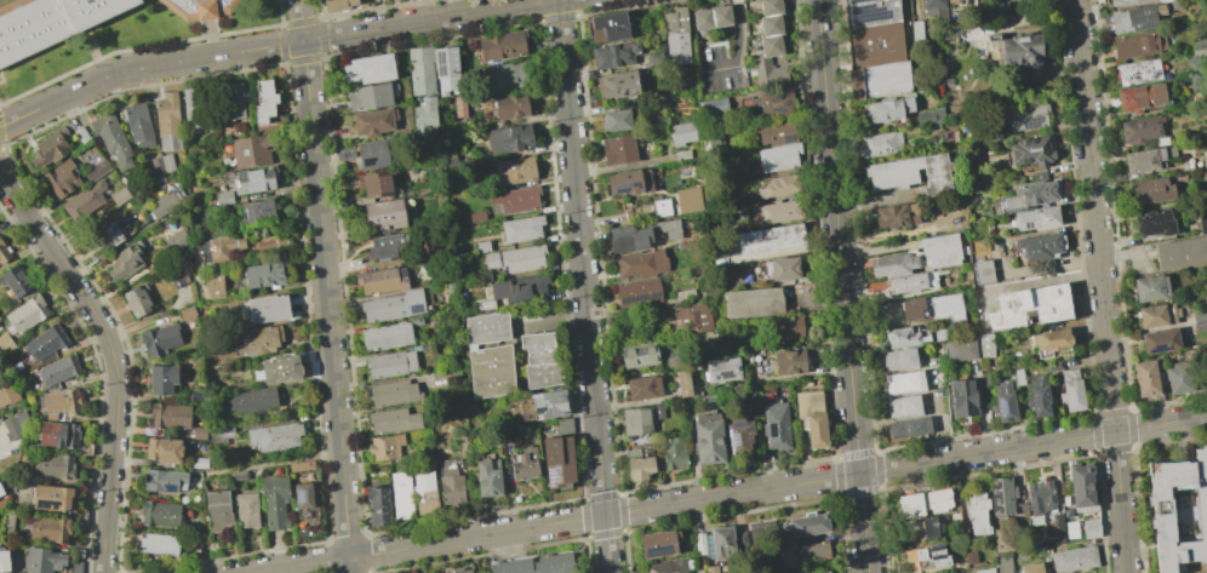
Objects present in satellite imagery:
building: (949, 0)
building: (1022, 1)
building: (1127, 2)
building: (1173, 4)
building: (337, 5)
building: (932, 6)
building: (770, 7)
building: (199, 8)
building: (720, 16)
building: (1133, 17)
building: (674, 19)
building: (702, 19)
building: (51, 23)
building: (770, 24)
building: (606, 27)
building: (875, 33)
building: (500, 45)
building: (770, 45)
building: (1134, 45)
road: (269, 46)
building: (676, 46)
building: (1197, 47)
road: (737, 48)
building: (1017, 50)
building: (613, 55)
building: (367, 68)
building: (445, 69)
building: (419, 70)
building: (767, 73)
building: (1137, 73)
building: (503, 76)
building: (883, 81)
building: (617, 84)
building: (370, 96)
building: (1139, 97)
rooftop solar panel: (776, 98)
building: (229, 101)
building: (263, 101)
rooftop solar panel: (788, 102)
building: (776, 103)
building: (510, 105)
building: (711, 105)
building: (190, 107)
building: (458, 107)
rooftop solar panel: (778, 108)
building: (887, 109)
building: (423, 114)
building: (929, 116)
building: (1024, 116)
building: (614, 120)
building: (166, 121)
rooftop solar panel: (1030, 121)
building: (372, 122)
building: (137, 124)
building: (1140, 128)
building: (80, 133)
building: (681, 133)
building: (776, 133)
building: (509, 138)
building: (111, 139)
rooftop solar panel: (788, 139)
building: (879, 143)
building: (50, 147)
building: (618, 149)
building: (250, 150)
building: (1030, 150)
building: (344, 153)
building: (374, 153)
building: (681, 154)
building: (778, 156)
building: (446, 157)
building: (1203, 159)
building: (1142, 160)
building: (160, 162)
road: (623, 165)
building: (96, 170)
building: (513, 171)
building: (892, 173)
building: (934, 174)
building: (62, 178)
building: (253, 179)
building: (628, 182)
building: (1205, 182)
building: (374, 184)
building: (778, 187)
building: (1149, 190)
building: (1031, 191)
building: (119, 195)
building: (223, 199)
building: (515, 199)
building: (688, 200)
building: (166, 202)
building: (81, 204)
building: (660, 207)
building: (773, 211)
building: (256, 212)
building: (384, 214)
building: (476, 216)
building: (894, 217)
building: (1035, 218)
building: (1201, 222)
building: (1152, 223)
building: (521, 229)
building: (113, 231)
building: (641, 234)
rooftop solar panel: (388, 237)
building: (770, 237)
building: (175, 240)
building: (387, 246)
building: (481, 246)
building: (1039, 246)
building: (218, 248)
building: (939, 250)
building: (1180, 252)
building: (2, 253)
building: (515, 258)
building: (126, 260)
building: (640, 264)
building: (892, 265)
building: (782, 268)
building: (982, 271)
building: (262, 275)
building: (486, 277)
building: (178, 280)
building: (15, 281)
building: (379, 281)
building: (905, 282)
building: (211, 285)
road: (324, 286)
road: (583, 286)
road: (842, 286)
road: (1100, 286)
building: (448, 287)
building: (1149, 287)
building: (519, 288)
building: (637, 291)
building: (681, 296)
building: (136, 299)
building: (753, 302)
building: (391, 305)
building: (485, 305)
building: (1028, 305)
building: (263, 308)
rooftop solar panel: (418, 308)
building: (932, 308)
building: (187, 313)
building: (24, 315)
building: (1156, 315)
building: (1199, 315)
building: (694, 316)
building: (416, 320)
building: (1200, 326)
building: (486, 327)
building: (785, 327)
building: (385, 336)
building: (900, 337)
building: (159, 339)
building: (256, 339)
building: (1049, 339)
building: (1159, 340)
building: (4, 343)
building: (45, 343)
building: (983, 345)
rooftop solar panel: (1157, 348)
building: (959, 349)
building: (639, 355)
road: (114, 359)
building: (538, 360)
building: (897, 360)
building: (789, 362)
building: (389, 363)
building: (278, 368)
building: (58, 369)
building: (721, 369)
building: (491, 371)
rooftop solar panel: (725, 373)
building: (161, 378)
building: (1144, 378)
building: (1177, 378)
building: (899, 382)
building: (682, 383)
building: (641, 388)
building: (1070, 390)
building: (391, 392)
building: (7, 394)
building: (194, 396)
building: (1036, 396)
building: (961, 397)
building: (252, 400)
rooftop solar panel: (543, 400)
building: (59, 401)
building: (1002, 402)
building: (543, 405)
building: (902, 406)
rooftop solar panel: (1000, 406)
rooftop solar panel: (539, 409)
building: (657, 411)
building: (170, 416)
rooftop solar panel: (548, 416)
building: (811, 416)
building: (391, 420)
building: (636, 420)
building: (16, 425)
building: (776, 425)
building: (916, 425)
building: (894, 429)
building: (199, 432)
building: (56, 435)
building: (274, 436)
building: (738, 437)
building: (707, 439)
rooftop solar panel: (731, 440)
building: (384, 447)
road: (4, 448)
building: (161, 449)
building: (674, 454)
building: (556, 460)
building: (199, 463)
building: (52, 465)
building: (301, 465)
building: (525, 465)
building: (639, 468)
building: (239, 475)
rooftop solar panel: (551, 475)
building: (486, 479)
building: (162, 480)
building: (448, 481)
building: (1081, 485)
rooftop solar panel: (170, 487)
building: (0, 492)
building: (424, 493)
road: (731, 494)
rooftop solar panel: (297, 495)
building: (401, 495)
building: (1001, 495)
building: (1037, 497)
building: (48, 498)
building: (302, 499)
building: (274, 502)
building: (922, 503)
building: (377, 505)
building: (217, 510)
building: (245, 510)
building: (1161, 511)
building: (976, 512)
building: (159, 514)
building: (6, 523)
building: (807, 523)
building: (921, 527)
building: (48, 528)
building: (1089, 528)
building: (1063, 529)
building: (761, 532)
building: (723, 542)
building: (158, 543)
building: (657, 543)
building: (699, 544)
rooftop solar panel: (657, 549)
building: (802, 552)
building: (925, 556)
building: (969, 556)
building: (1074, 558)
building: (2, 561)
building: (41, 561)
building: (1002, 562)
building: (534, 565)
building: (75, 567)
building: (665, 567)
building: (1031, 568)
building: (710, 569)
building: (458, 571)
building: (812, 571)
building: (983, 571)
building: (16, 572)

